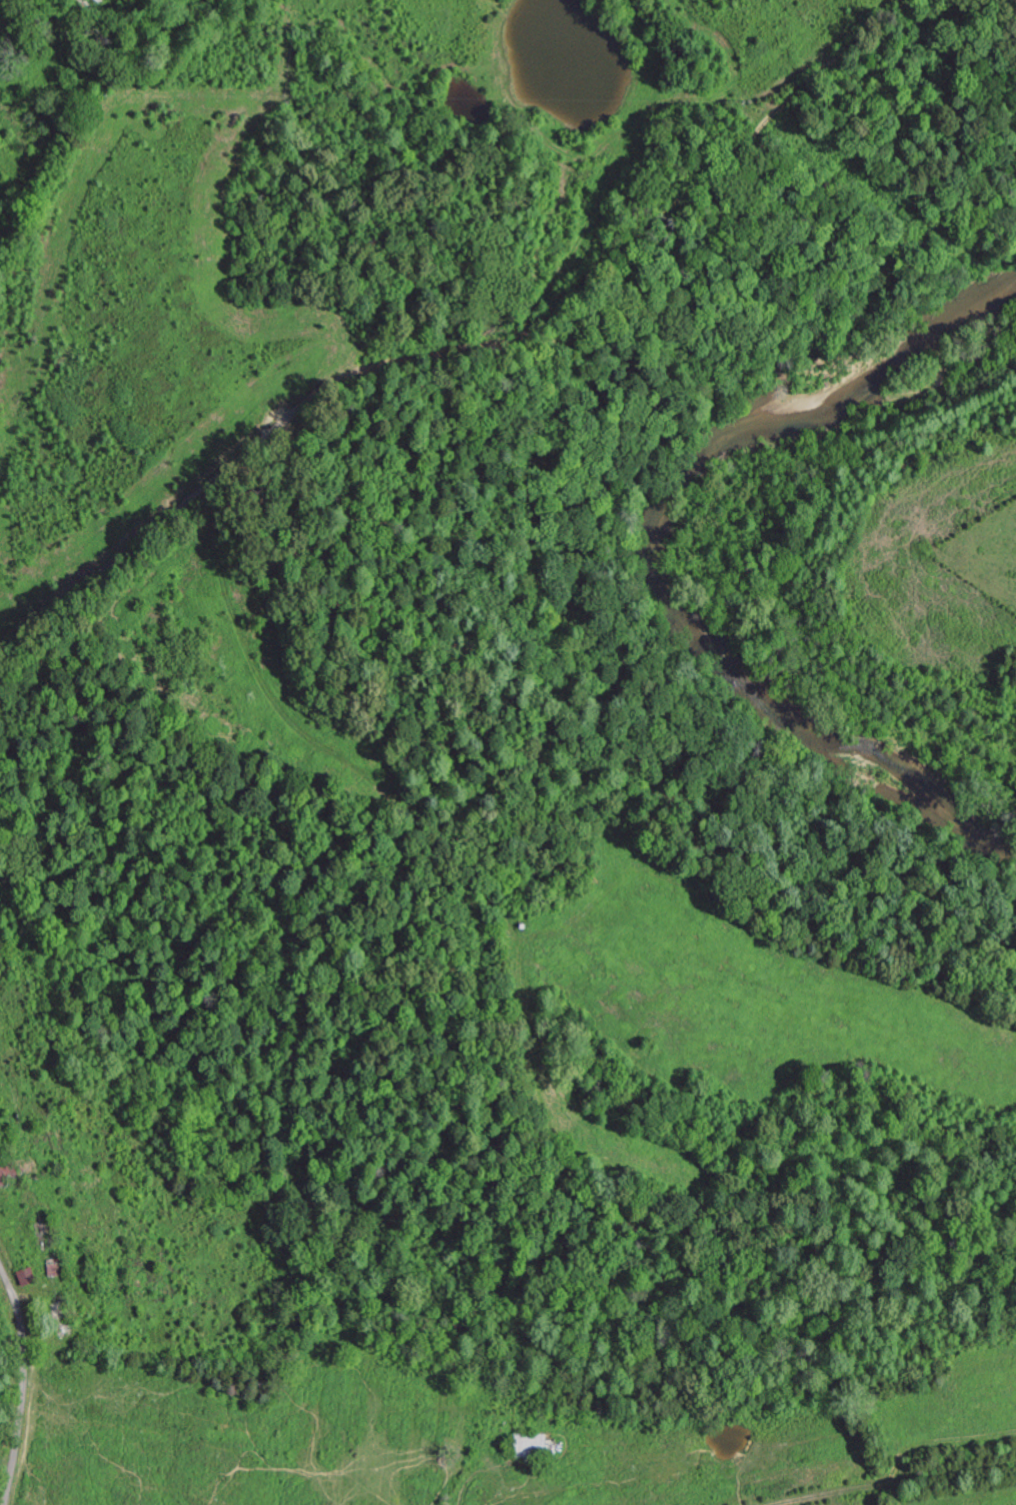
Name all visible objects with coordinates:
road: (261, 439)
road: (105, 567)
road: (22, 1384)
road: (899, 1481)

